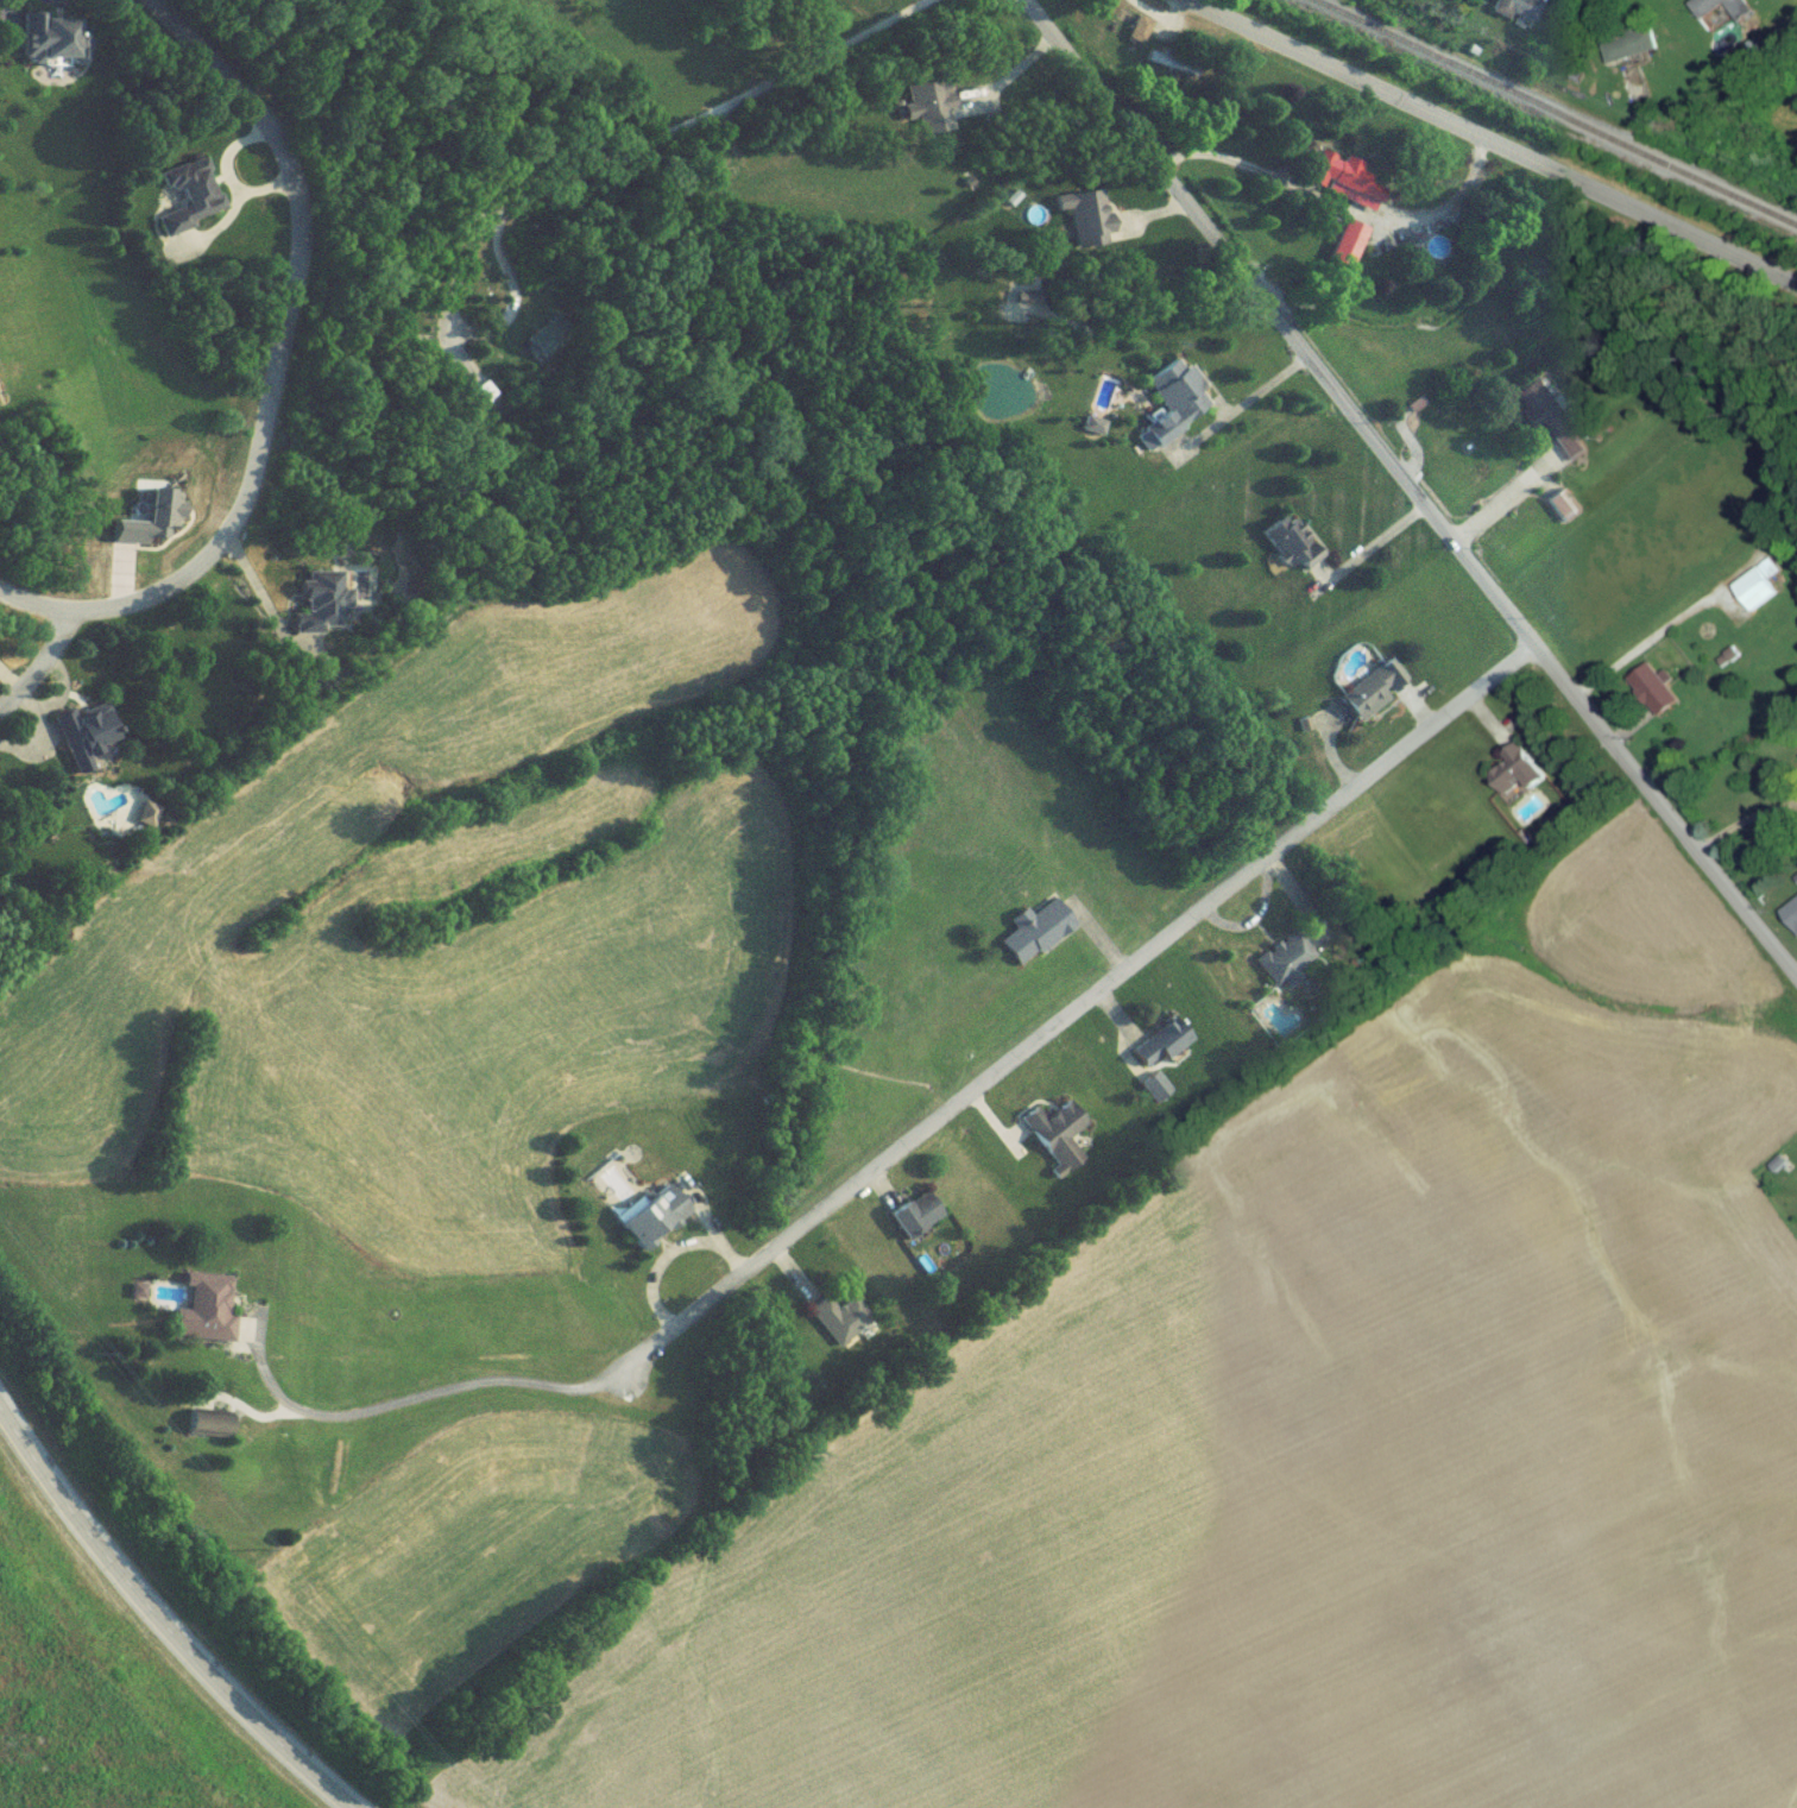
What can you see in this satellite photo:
building: (1511, 12)
building: (1717, 14)
road: (1156, 20)
building: (1135, 37)
building: (39, 46)
road: (1007, 82)
building: (925, 105)
railway: (1547, 115)
road: (662, 143)
road: (1480, 144)
building: (1342, 184)
road: (1332, 204)
building: (189, 213)
road: (1147, 216)
building: (1084, 223)
building: (1343, 251)
road: (276, 374)
road: (1236, 410)
building: (1162, 418)
building: (1539, 427)
road: (1406, 490)
road: (1502, 503)
building: (1559, 512)
road: (1363, 550)
building: (1288, 553)
road: (1319, 577)
road: (258, 596)
building: (1752, 597)
road: (1657, 637)
road: (43, 673)
building: (1644, 688)
building: (1366, 700)
road: (1414, 713)
road: (1486, 722)
road: (1628, 731)
building: (83, 739)
road: (1331, 760)
building: (1511, 779)
road: (1795, 805)
road: (1742, 823)
building: (1790, 921)
building: (1033, 940)
building: (1280, 968)
road: (1073, 1015)
building: (1154, 1052)
building: (1150, 1097)
building: (1054, 1141)
building: (910, 1222)
building: (648, 1224)
road: (427, 1399)
road: (157, 1624)

